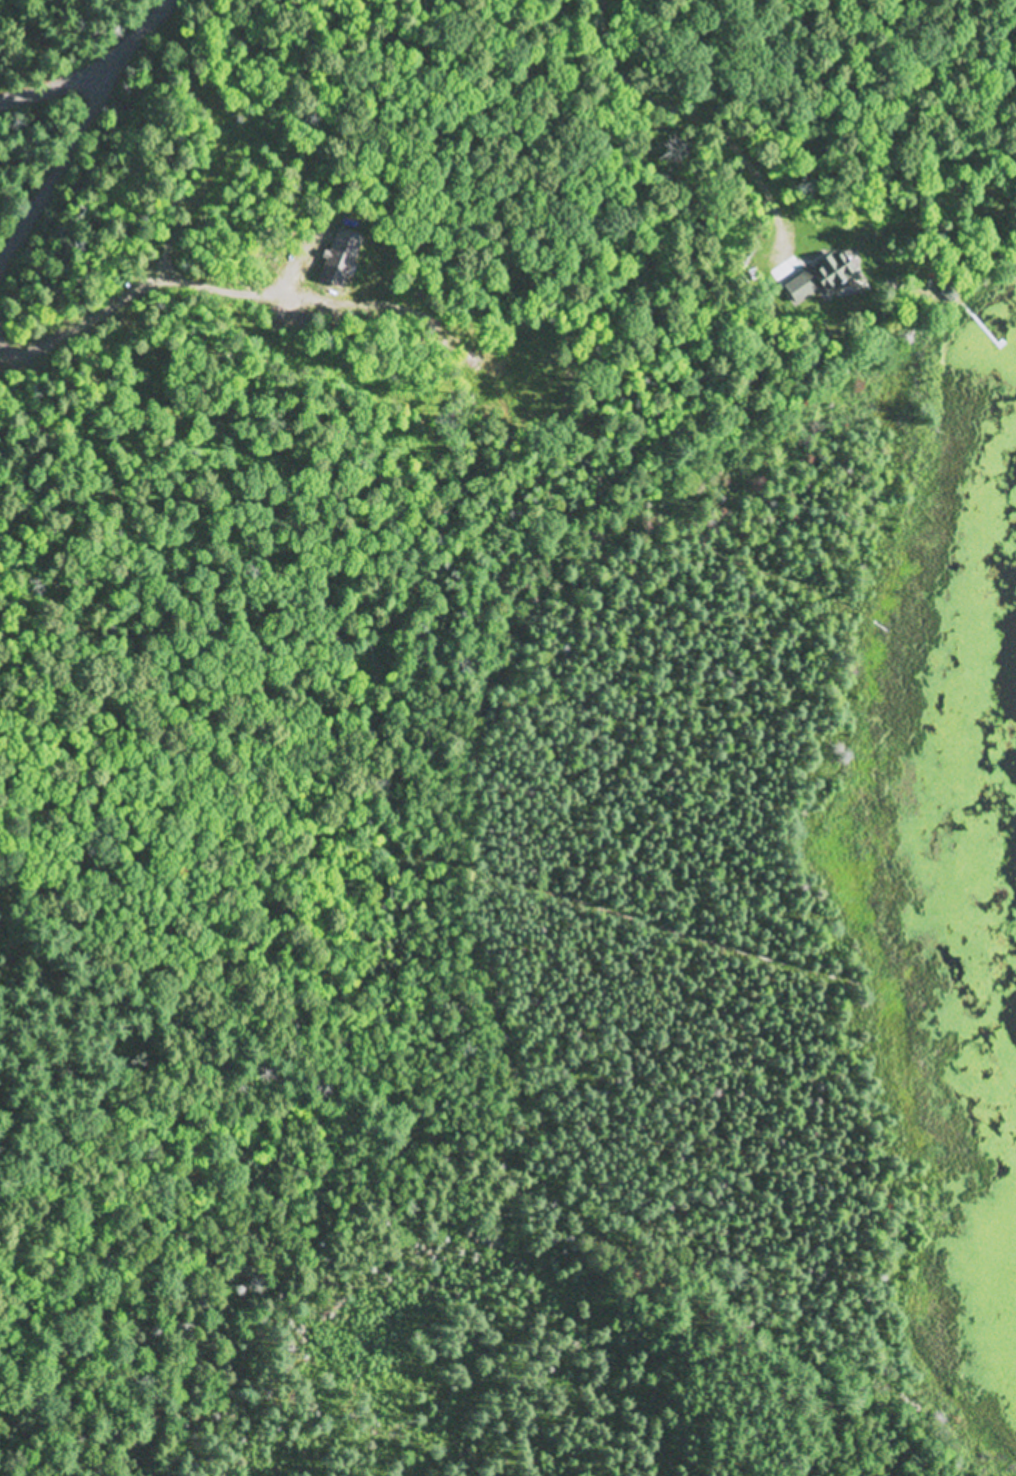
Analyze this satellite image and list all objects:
road: (153, 10)
road: (95, 68)
road: (77, 148)
building: (800, 286)
road: (270, 898)
road: (34, 1123)

